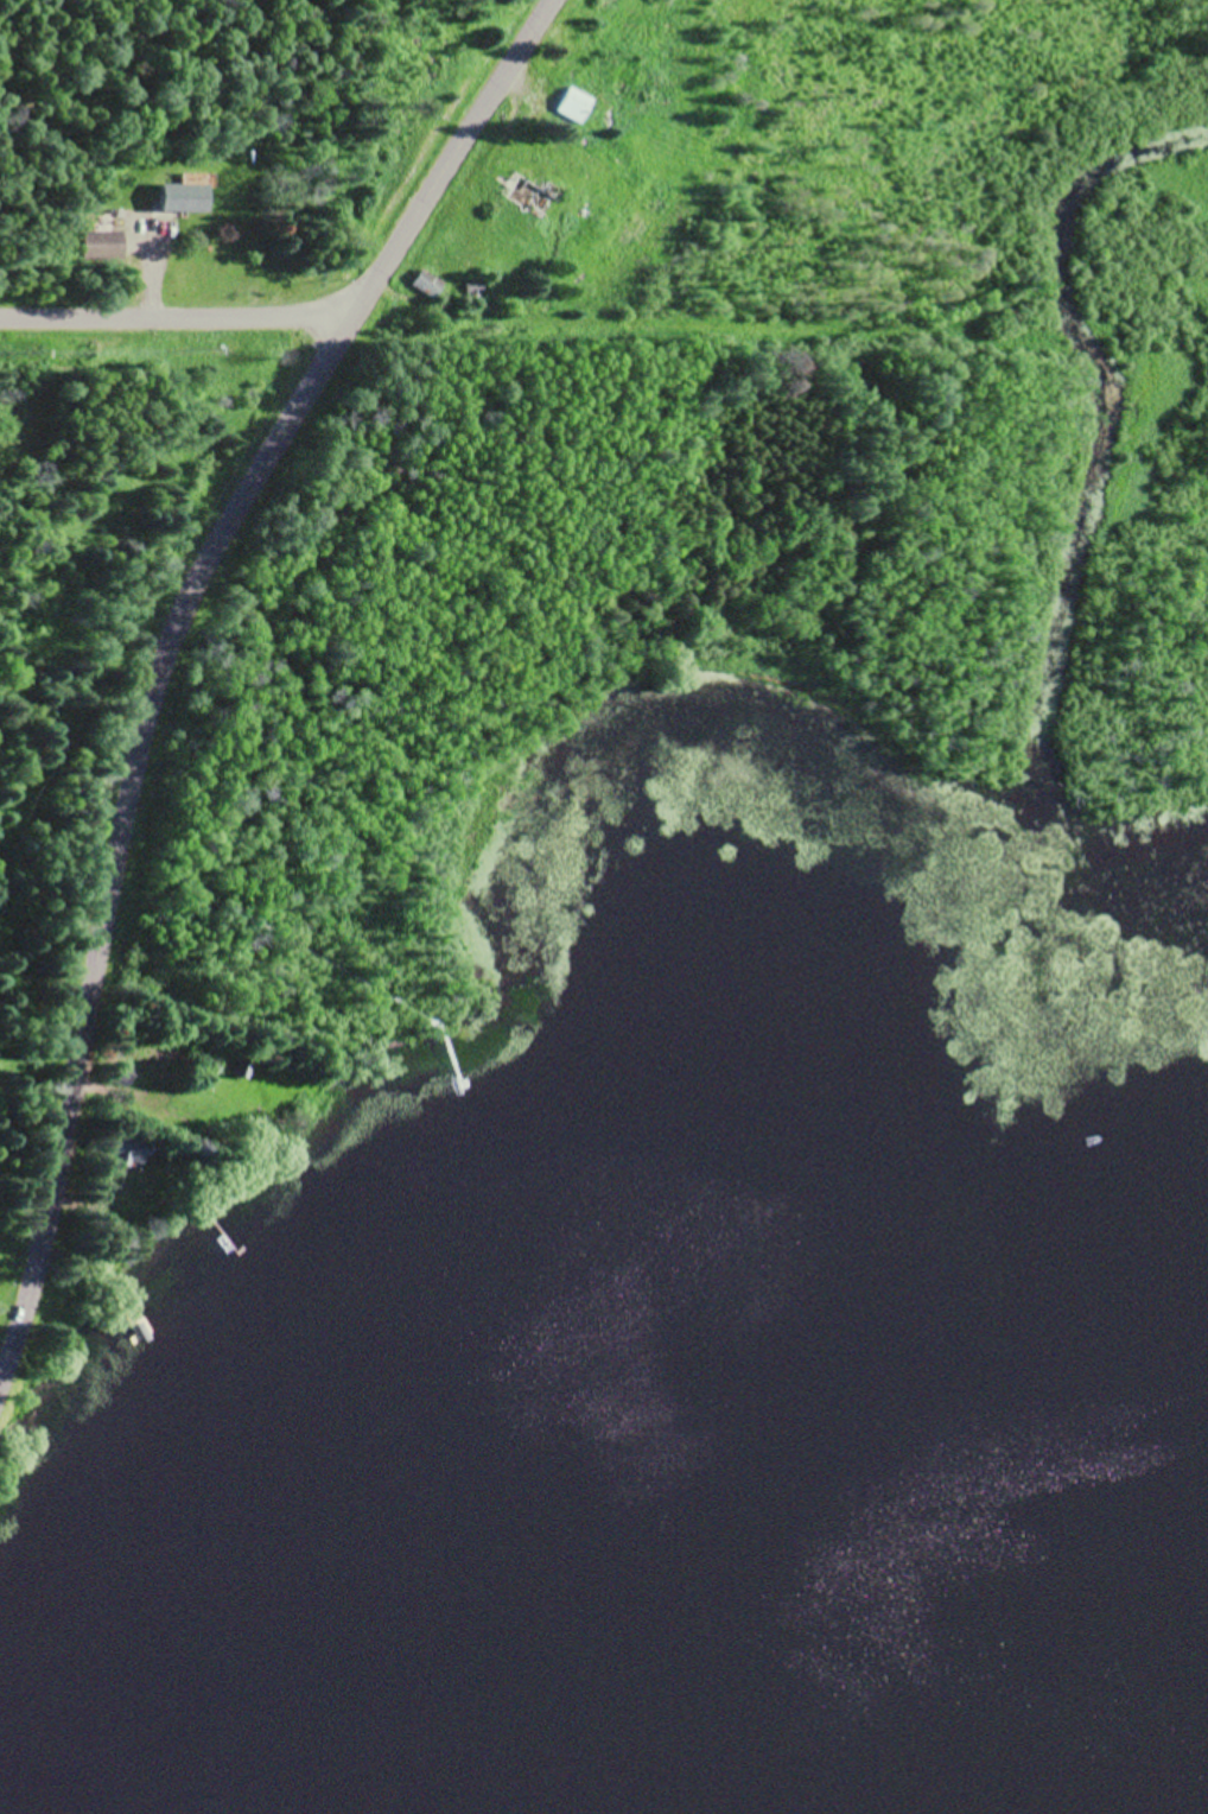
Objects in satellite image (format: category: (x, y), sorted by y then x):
building: (574, 103)
building: (532, 195)
building: (184, 197)
building: (103, 245)
building: (426, 283)
building: (475, 288)
road: (178, 316)
road: (169, 652)
building: (120, 1082)
building: (126, 1153)

